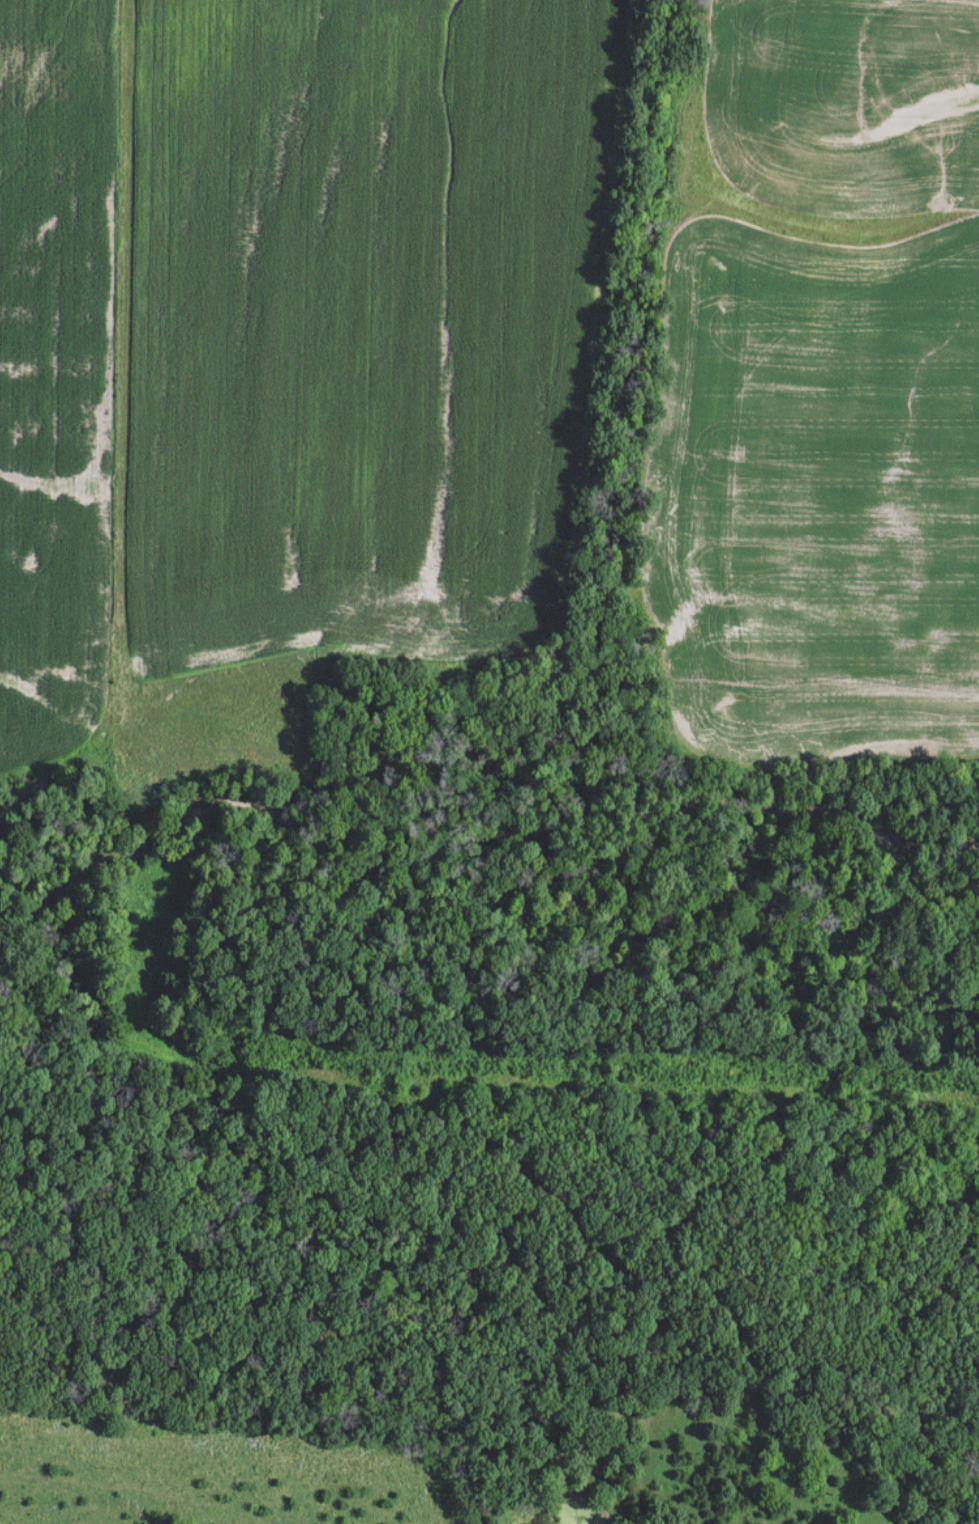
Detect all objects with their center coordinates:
road: (975, 623)

